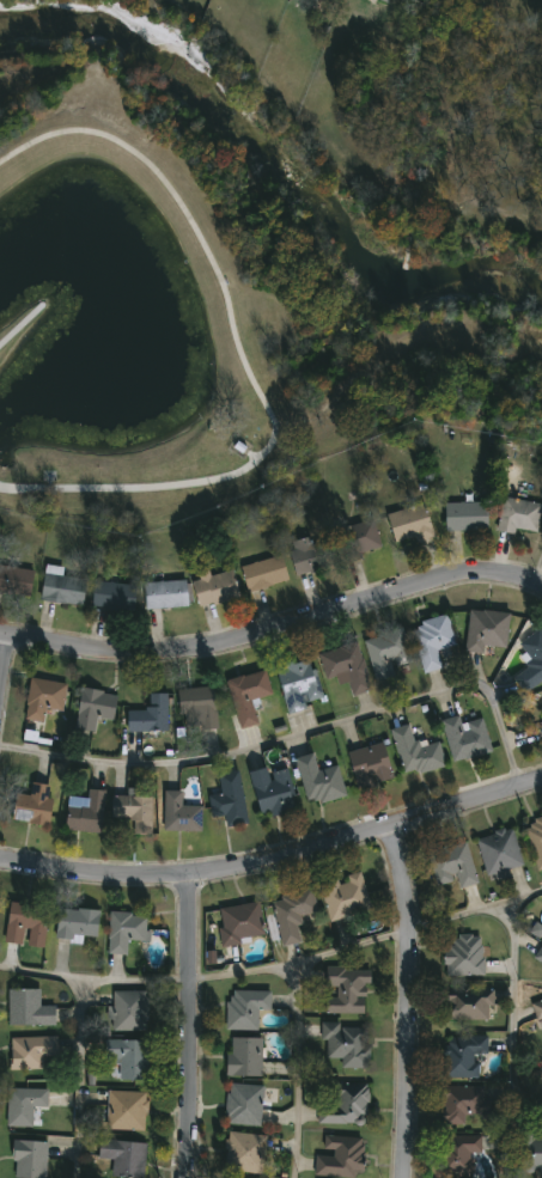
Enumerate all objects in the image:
building: (385, 0)
park: (480, 209)
park: (170, 292)
road: (17, 325)
road: (240, 353)
building: (464, 514)
building: (518, 514)
building: (409, 523)
building: (359, 537)
building: (311, 553)
building: (263, 572)
building: (16, 578)
building: (215, 586)
building: (62, 587)
building: (165, 593)
building: (112, 594)
building: (485, 629)
road: (274, 635)
building: (431, 640)
building: (386, 652)
building: (534, 652)
road: (4, 663)
building: (346, 666)
building: (298, 684)
building: (44, 696)
building: (246, 696)
building: (197, 706)
building: (93, 707)
building: (148, 715)
building: (541, 726)
road: (296, 732)
building: (465, 737)
building: (414, 751)
building: (370, 763)
building: (319, 780)
building: (272, 791)
building: (227, 798)
building: (34, 802)
building: (86, 811)
building: (135, 811)
building: (178, 812)
building: (535, 838)
building: (499, 852)
road: (275, 863)
building: (451, 863)
building: (343, 895)
building: (292, 911)
building: (77, 921)
building: (25, 922)
building: (239, 922)
building: (126, 929)
road: (367, 942)
building: (463, 953)
building: (538, 957)
road: (93, 976)
building: (347, 988)
road: (409, 1001)
building: (465, 1003)
building: (28, 1006)
building: (244, 1006)
building: (536, 1007)
building: (129, 1008)
road: (513, 1009)
road: (189, 1030)
building: (347, 1043)
building: (31, 1050)
building: (461, 1052)
building: (244, 1055)
building: (129, 1056)
road: (297, 1072)
road: (80, 1076)
building: (243, 1103)
building: (462, 1103)
building: (345, 1104)
building: (25, 1106)
building: (126, 1109)
building: (244, 1152)
building: (530, 1153)
building: (458, 1154)
building: (340, 1155)
building: (123, 1156)
building: (29, 1159)
building: (225, 1177)

